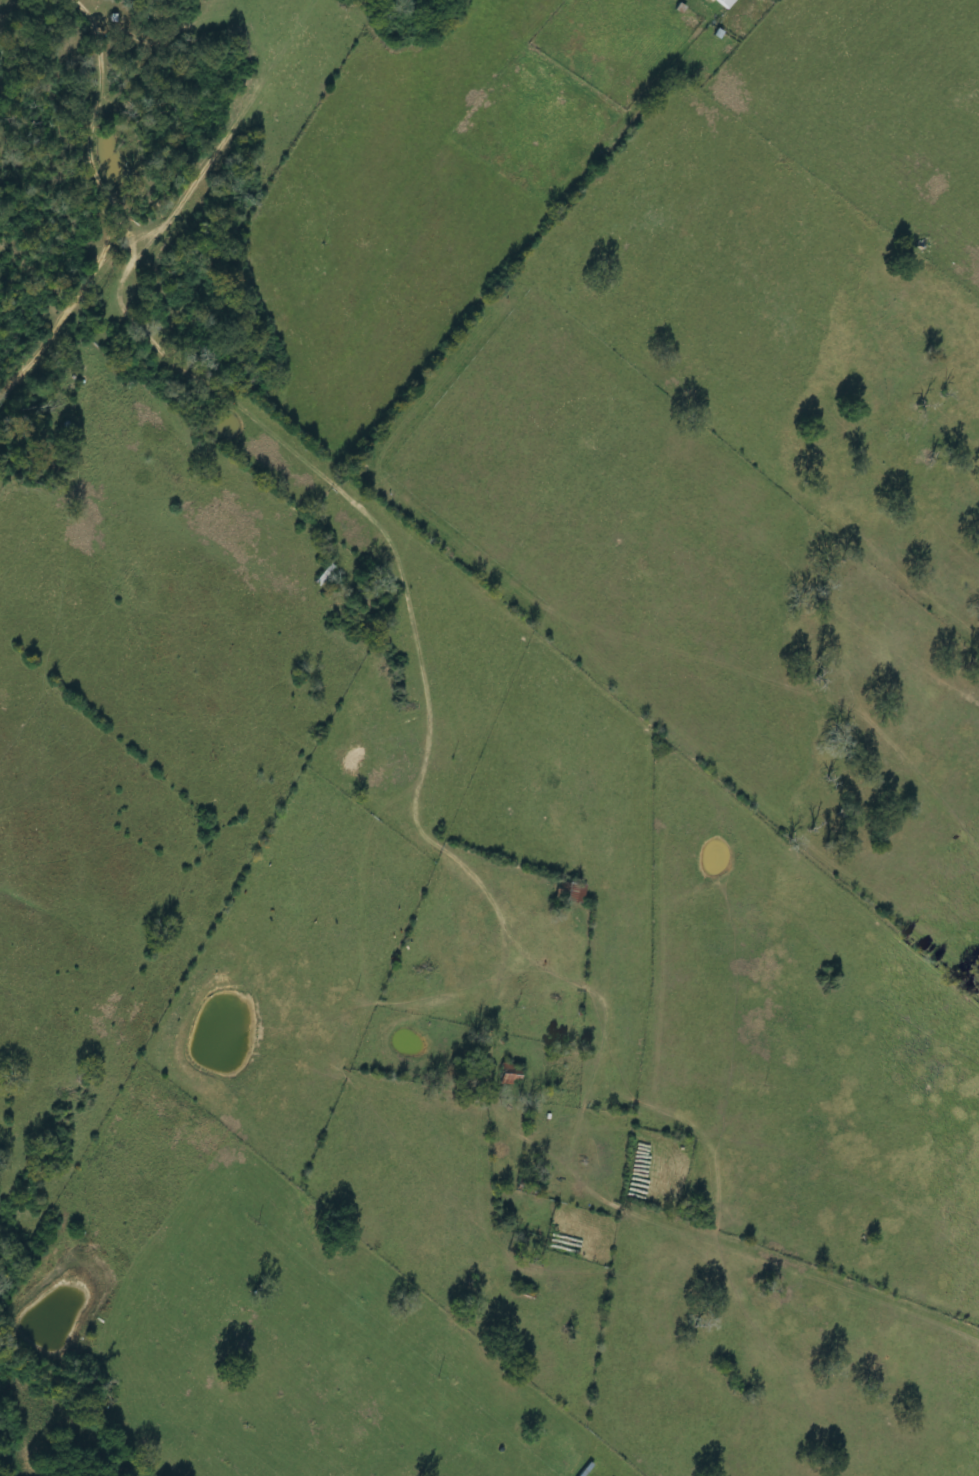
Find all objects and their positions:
building: (723, 3)

